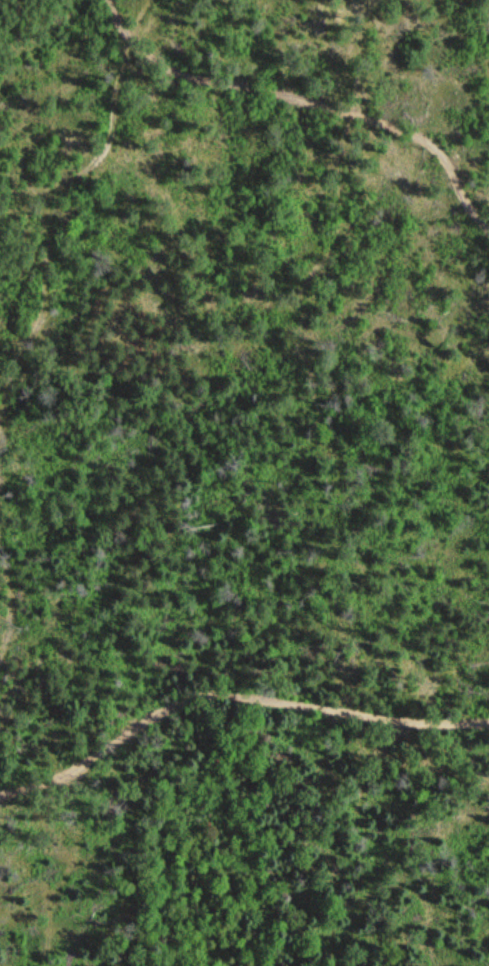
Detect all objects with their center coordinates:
road: (308, 106)
road: (232, 700)

